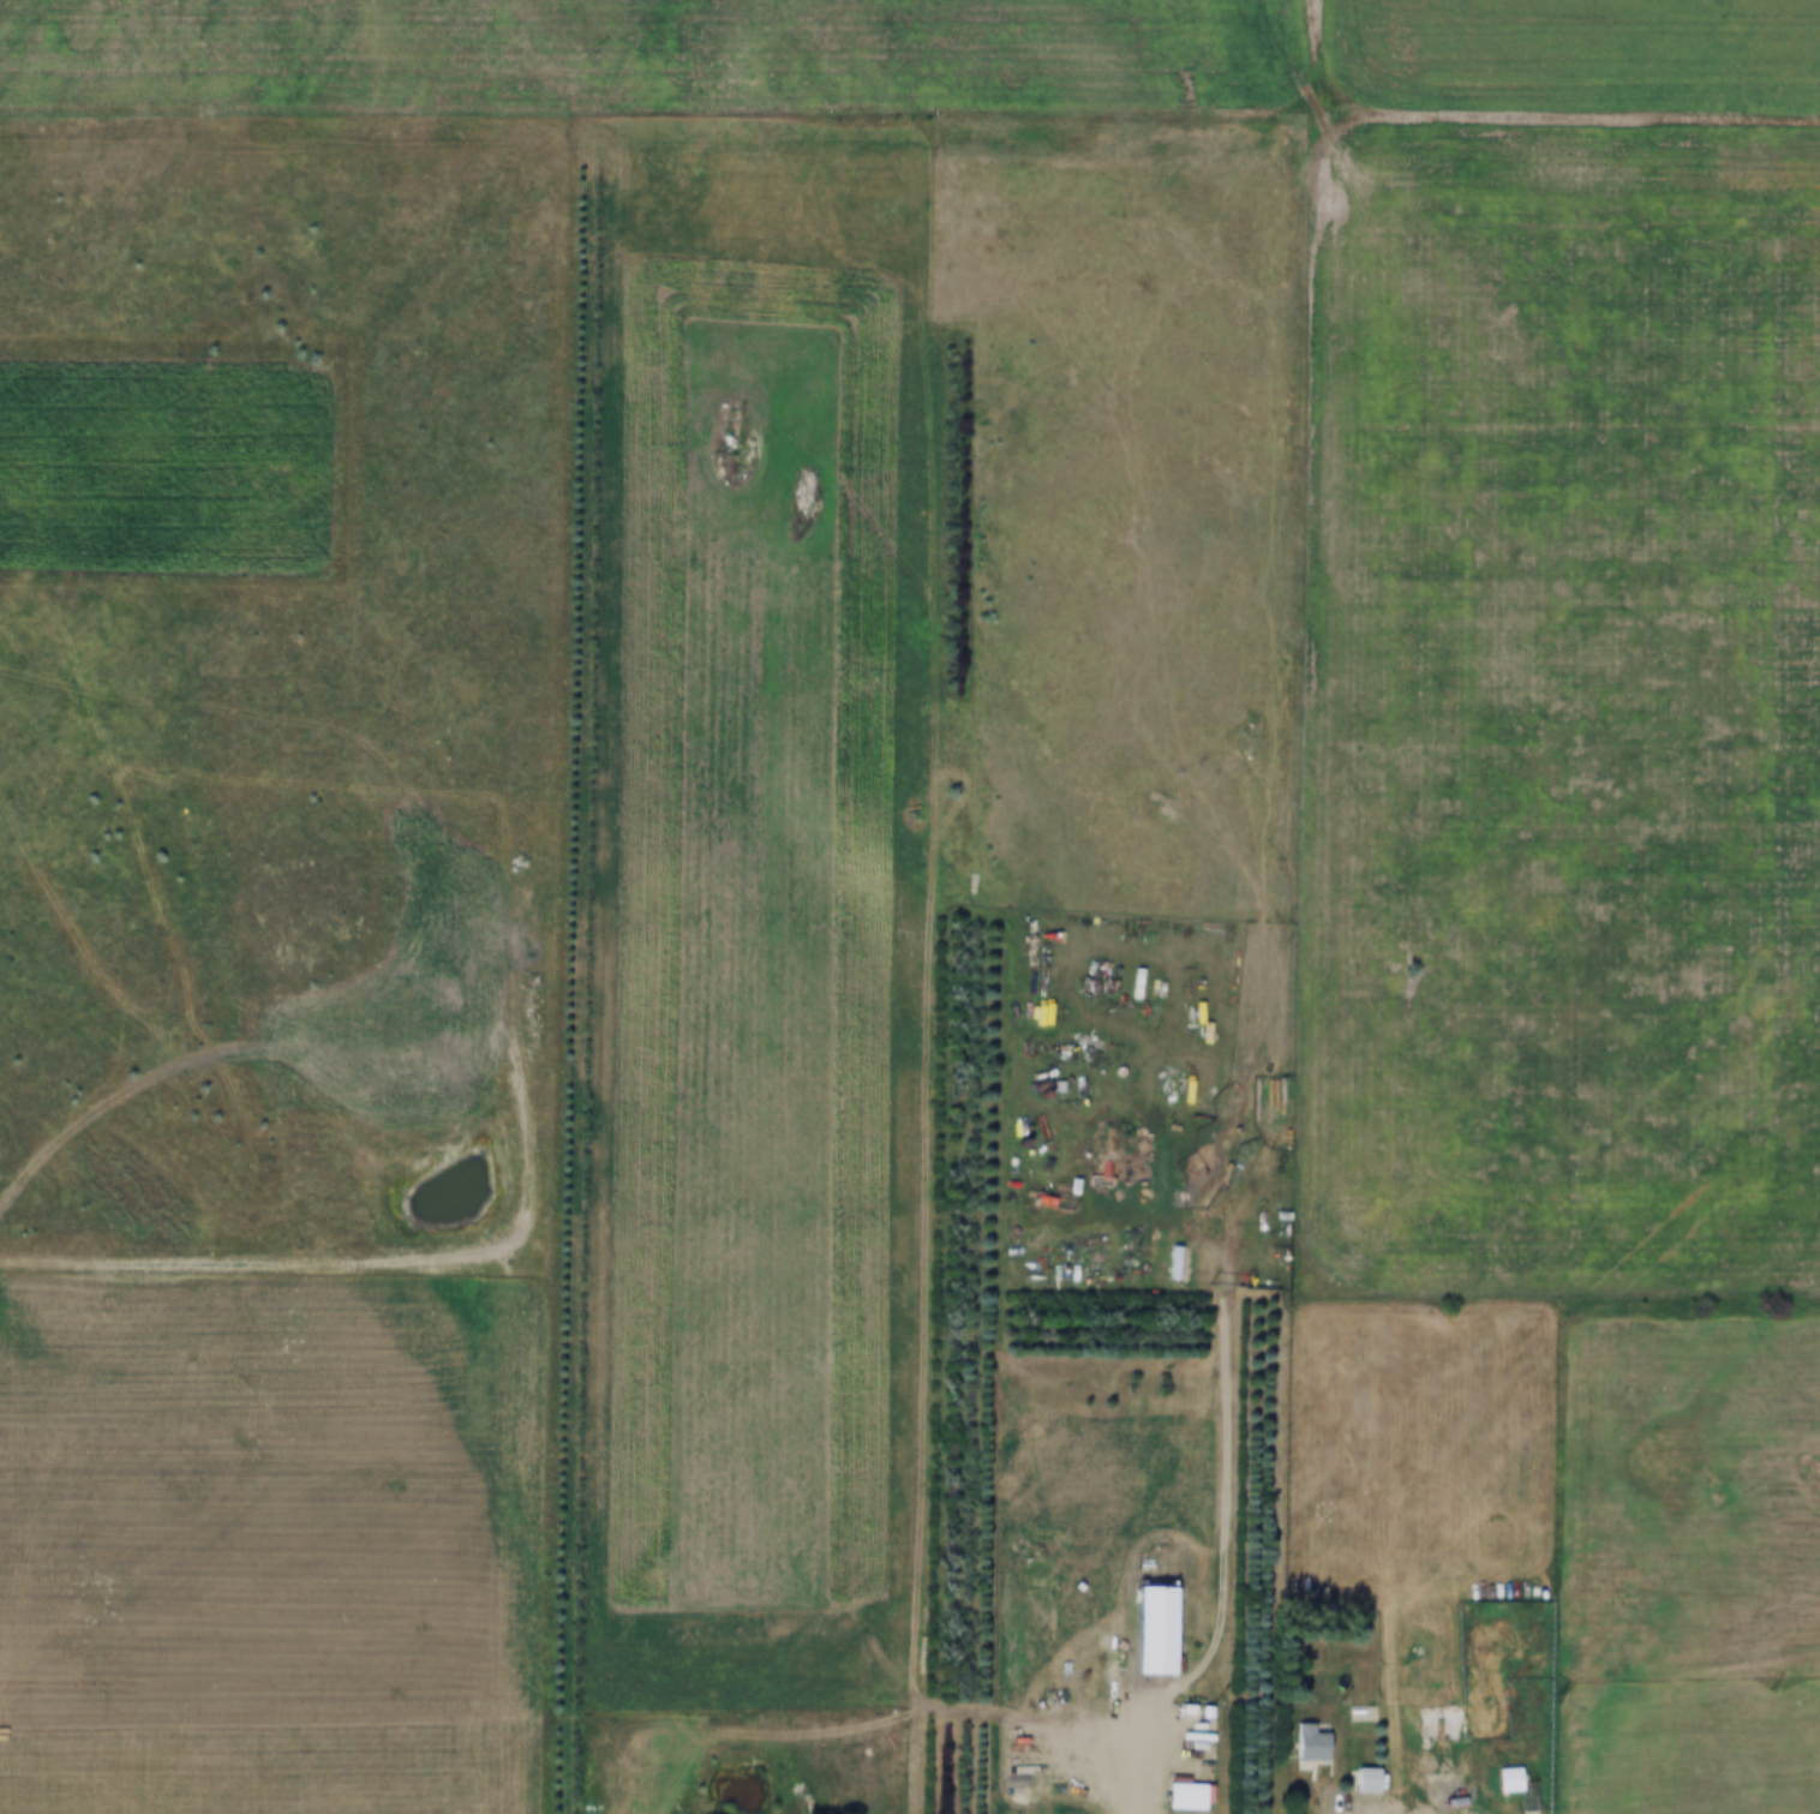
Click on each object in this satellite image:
building: (1065, 1414)
building: (1160, 1629)
building: (1226, 1664)
building: (1435, 1725)
building: (1315, 1743)
road: (1142, 1764)
building: (1513, 1779)
building: (1369, 1780)

